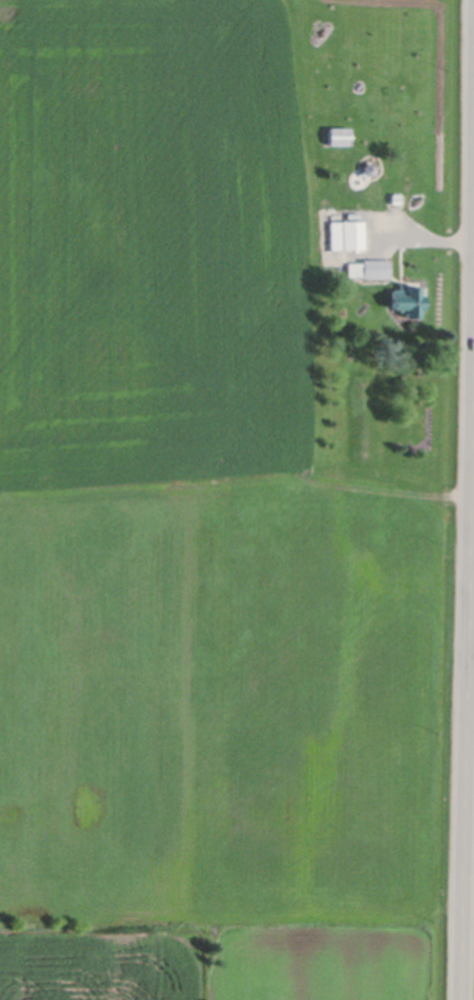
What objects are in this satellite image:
building: (337, 137)
building: (394, 199)
building: (345, 236)
road: (421, 238)
building: (368, 270)
building: (406, 302)
road: (468, 620)

